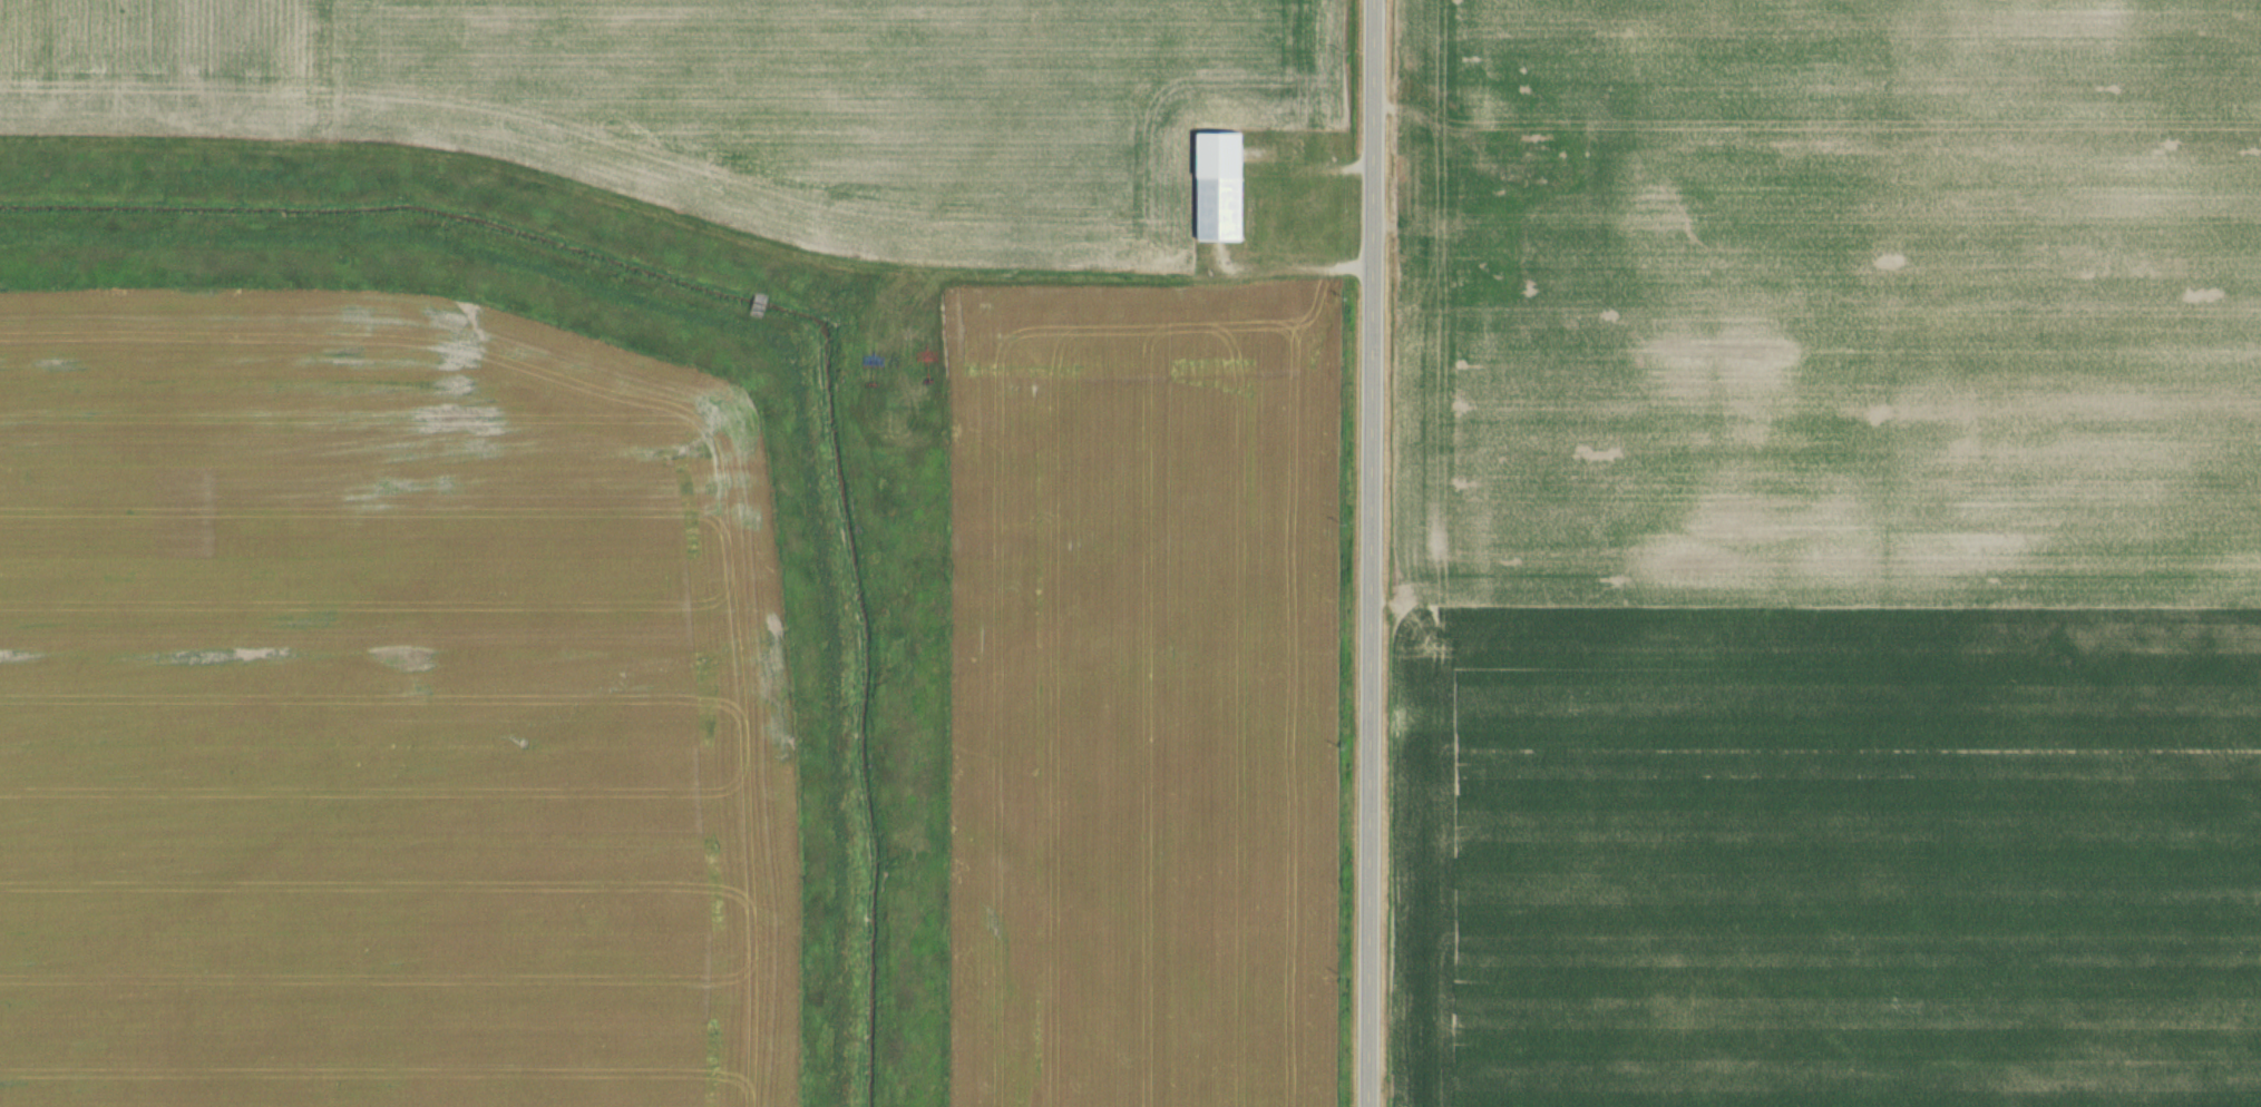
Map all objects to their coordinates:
building: (1526, 165)
building: (1226, 185)
building: (1488, 233)
building: (1443, 253)
building: (759, 304)
road: (1367, 553)

